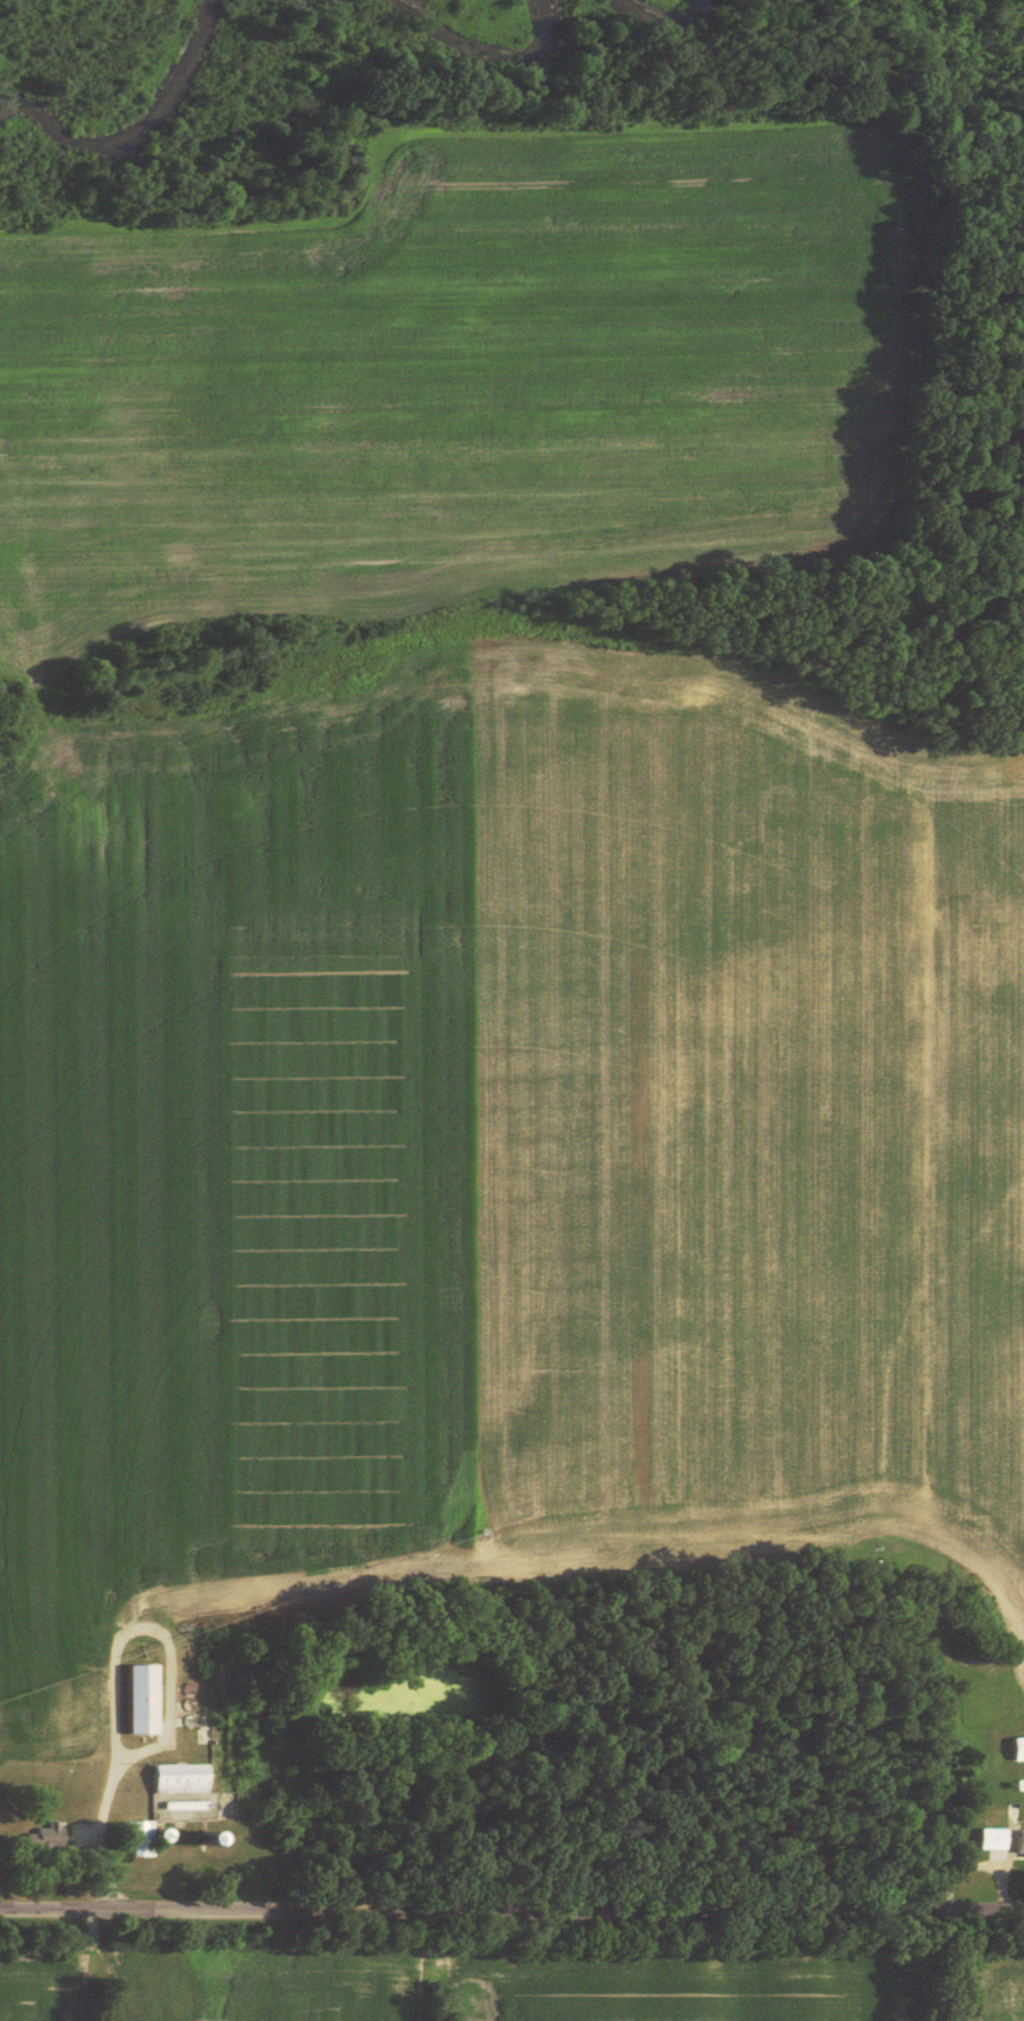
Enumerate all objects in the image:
building: (145, 1698)
building: (1021, 1748)
building: (183, 1778)
building: (49, 1837)
building: (141, 1838)
building: (998, 1838)
building: (1023, 1841)
road: (511, 1913)

